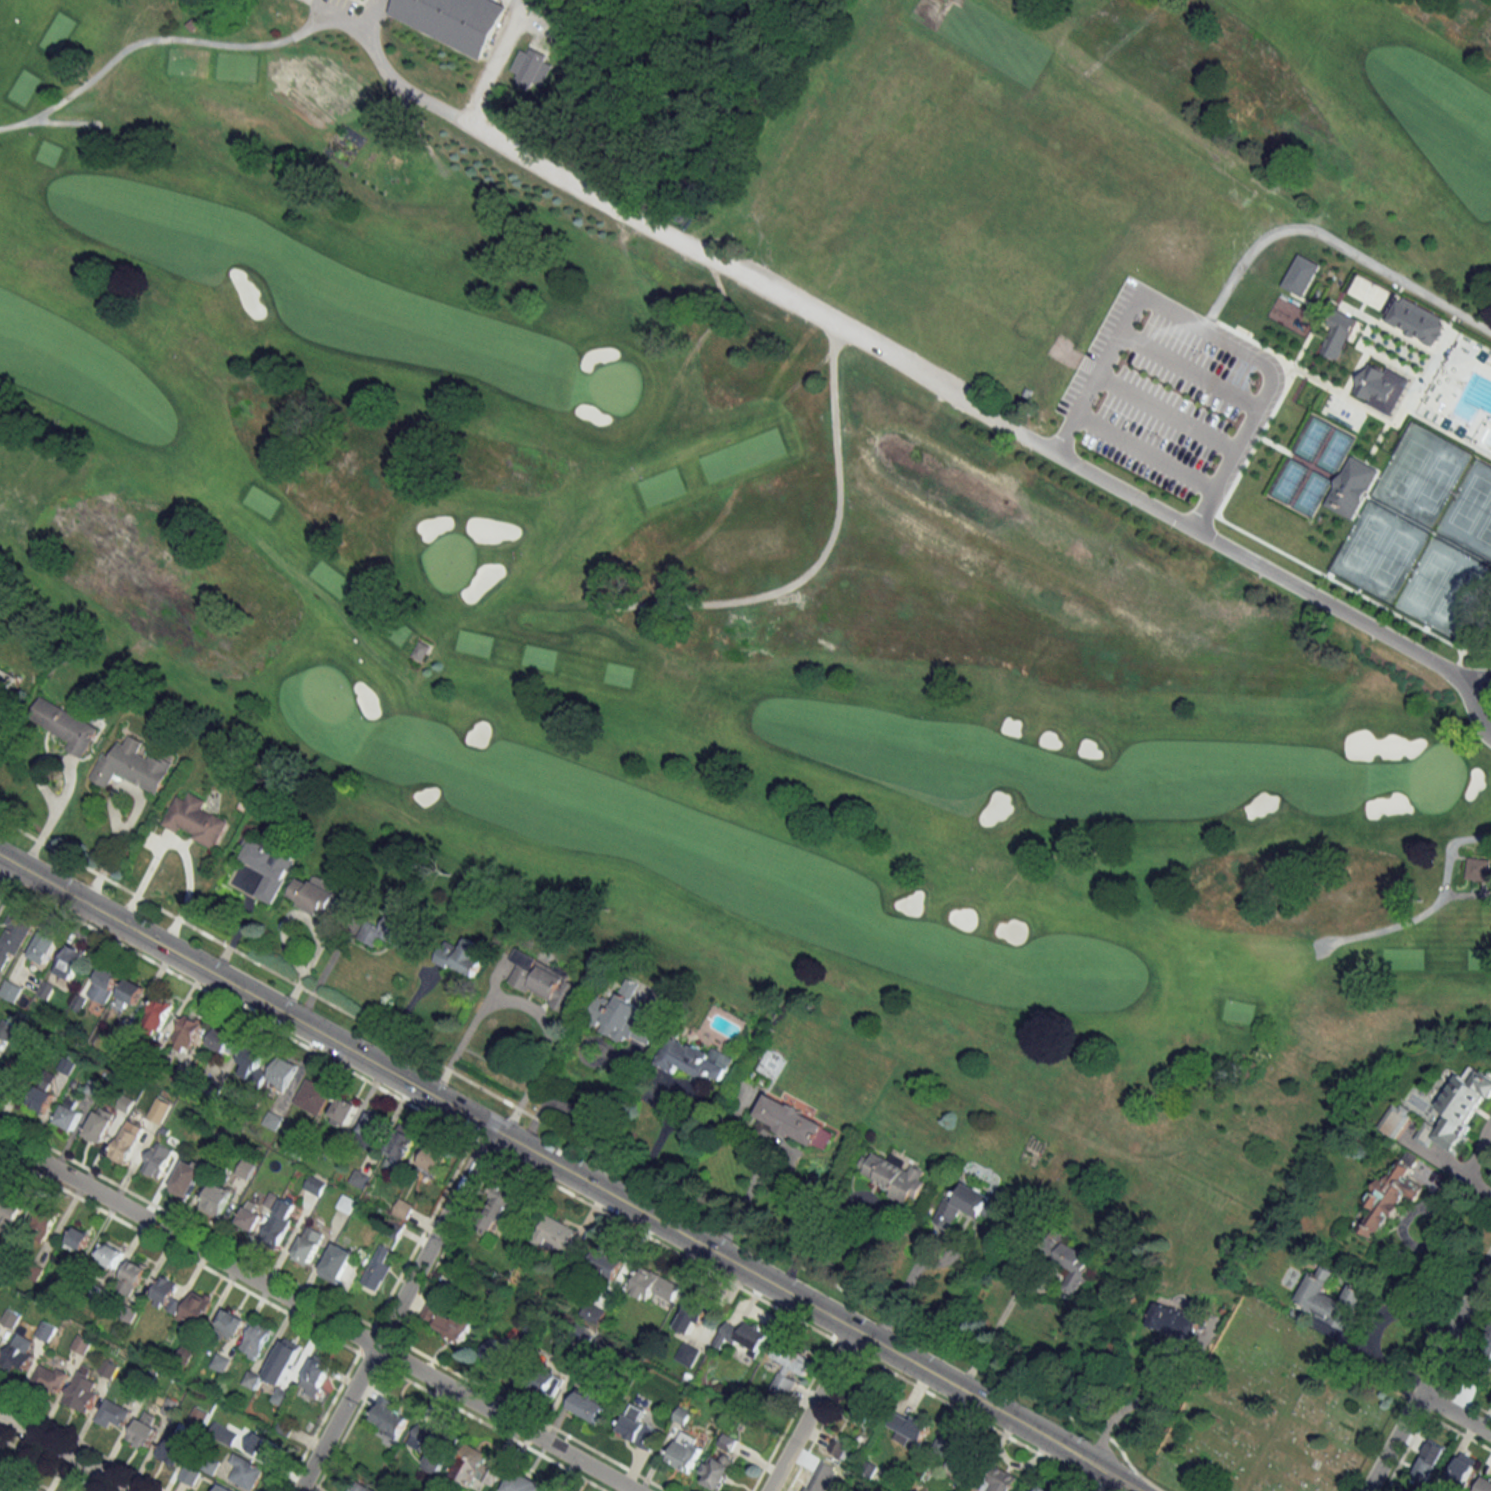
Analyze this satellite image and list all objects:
road: (338, 15)
building: (452, 18)
road: (154, 37)
road: (491, 60)
building: (528, 66)
road: (384, 70)
road: (61, 120)
road: (1337, 242)
road: (732, 268)
building: (1299, 273)
building: (1412, 318)
road: (1200, 329)
building: (1335, 331)
road: (1186, 369)
parking lot: (1156, 385)
building: (1378, 386)
building: (1434, 395)
road: (1163, 411)
park: (1309, 436)
flagpole: (1383, 438)
park: (1332, 448)
road: (1142, 450)
park: (1286, 478)
building: (1348, 485)
park: (821, 489)
park: (1308, 491)
park: (1468, 501)
park: (1484, 526)
park: (1362, 541)
park: (1389, 556)
road: (1265, 568)
park: (1427, 577)
park: (1455, 592)
road: (716, 601)
road: (336, 609)
building: (6, 681)
building: (65, 725)
building: (132, 766)
road: (68, 785)
building: (195, 820)
road: (178, 851)
road: (112, 853)
building: (269, 868)
building: (1476, 869)
road: (4, 870)
building: (317, 896)
road: (1426, 905)
building: (393, 932)
building: (13, 938)
building: (45, 947)
building: (465, 957)
building: (72, 962)
building: (544, 981)
building: (105, 984)
building: (130, 993)
road: (523, 1005)
building: (158, 1013)
building: (622, 1020)
building: (189, 1031)
building: (224, 1042)
building: (251, 1058)
building: (694, 1059)
building: (67, 1065)
building: (283, 1072)
building: (42, 1089)
road: (427, 1093)
building: (313, 1096)
building: (1461, 1108)
building: (160, 1110)
building: (343, 1111)
building: (71, 1112)
building: (795, 1122)
building: (102, 1123)
building: (373, 1125)
building: (126, 1141)
road: (653, 1143)
building: (401, 1146)
road: (1475, 1156)
building: (157, 1159)
building: (434, 1160)
building: (894, 1175)
building: (188, 1178)
building: (315, 1185)
building: (1387, 1195)
building: (217, 1200)
building: (962, 1205)
building: (496, 1206)
building: (11, 1213)
building: (251, 1215)
building: (41, 1225)
building: (278, 1225)
building: (559, 1233)
building: (79, 1238)
building: (308, 1245)
road: (922, 1252)
building: (110, 1254)
building: (336, 1262)
building: (607, 1262)
building: (1072, 1262)
building: (377, 1269)
building: (131, 1277)
building: (653, 1285)
building: (165, 1294)
building: (1327, 1300)
building: (196, 1308)
road: (394, 1310)
building: (593, 1312)
road: (315, 1315)
building: (692, 1317)
building: (1174, 1321)
building: (447, 1322)
building: (230, 1323)
road: (992, 1330)
building: (1490, 1330)
building: (46, 1331)
building: (0, 1333)
building: (743, 1336)
building: (255, 1339)
building: (82, 1344)
building: (502, 1352)
building: (20, 1353)
building: (688, 1354)
building: (282, 1360)
building: (109, 1369)
building: (789, 1369)
building: (317, 1370)
road: (1427, 1374)
building: (50, 1377)
building: (544, 1380)
building: (82, 1391)
road: (981, 1402)
building: (589, 1403)
building: (863, 1405)
road: (1123, 1408)
park: (1273, 1410)
road: (810, 1411)
building: (199, 1415)
building: (682, 1415)
road: (1454, 1415)
building: (388, 1417)
building: (637, 1427)
building: (910, 1429)
building: (142, 1431)
building: (224, 1433)
building: (259, 1444)
building: (940, 1447)
building: (172, 1448)
building: (431, 1448)
building: (840, 1448)
building: (685, 1451)
road: (63, 1455)
building: (962, 1458)
building: (1425, 1466)
building: (475, 1467)
building: (1460, 1470)
building: (246, 1471)
building: (718, 1471)
building: (190, 1474)
building: (819, 1477)
building: (1, 1478)
building: (1003, 1481)
road: (1123, 1482)
building: (524, 1483)
building: (1484, 1484)
building: (24, 1487)
building: (221, 1487)
building: (363, 1487)
building: (1042, 1488)

